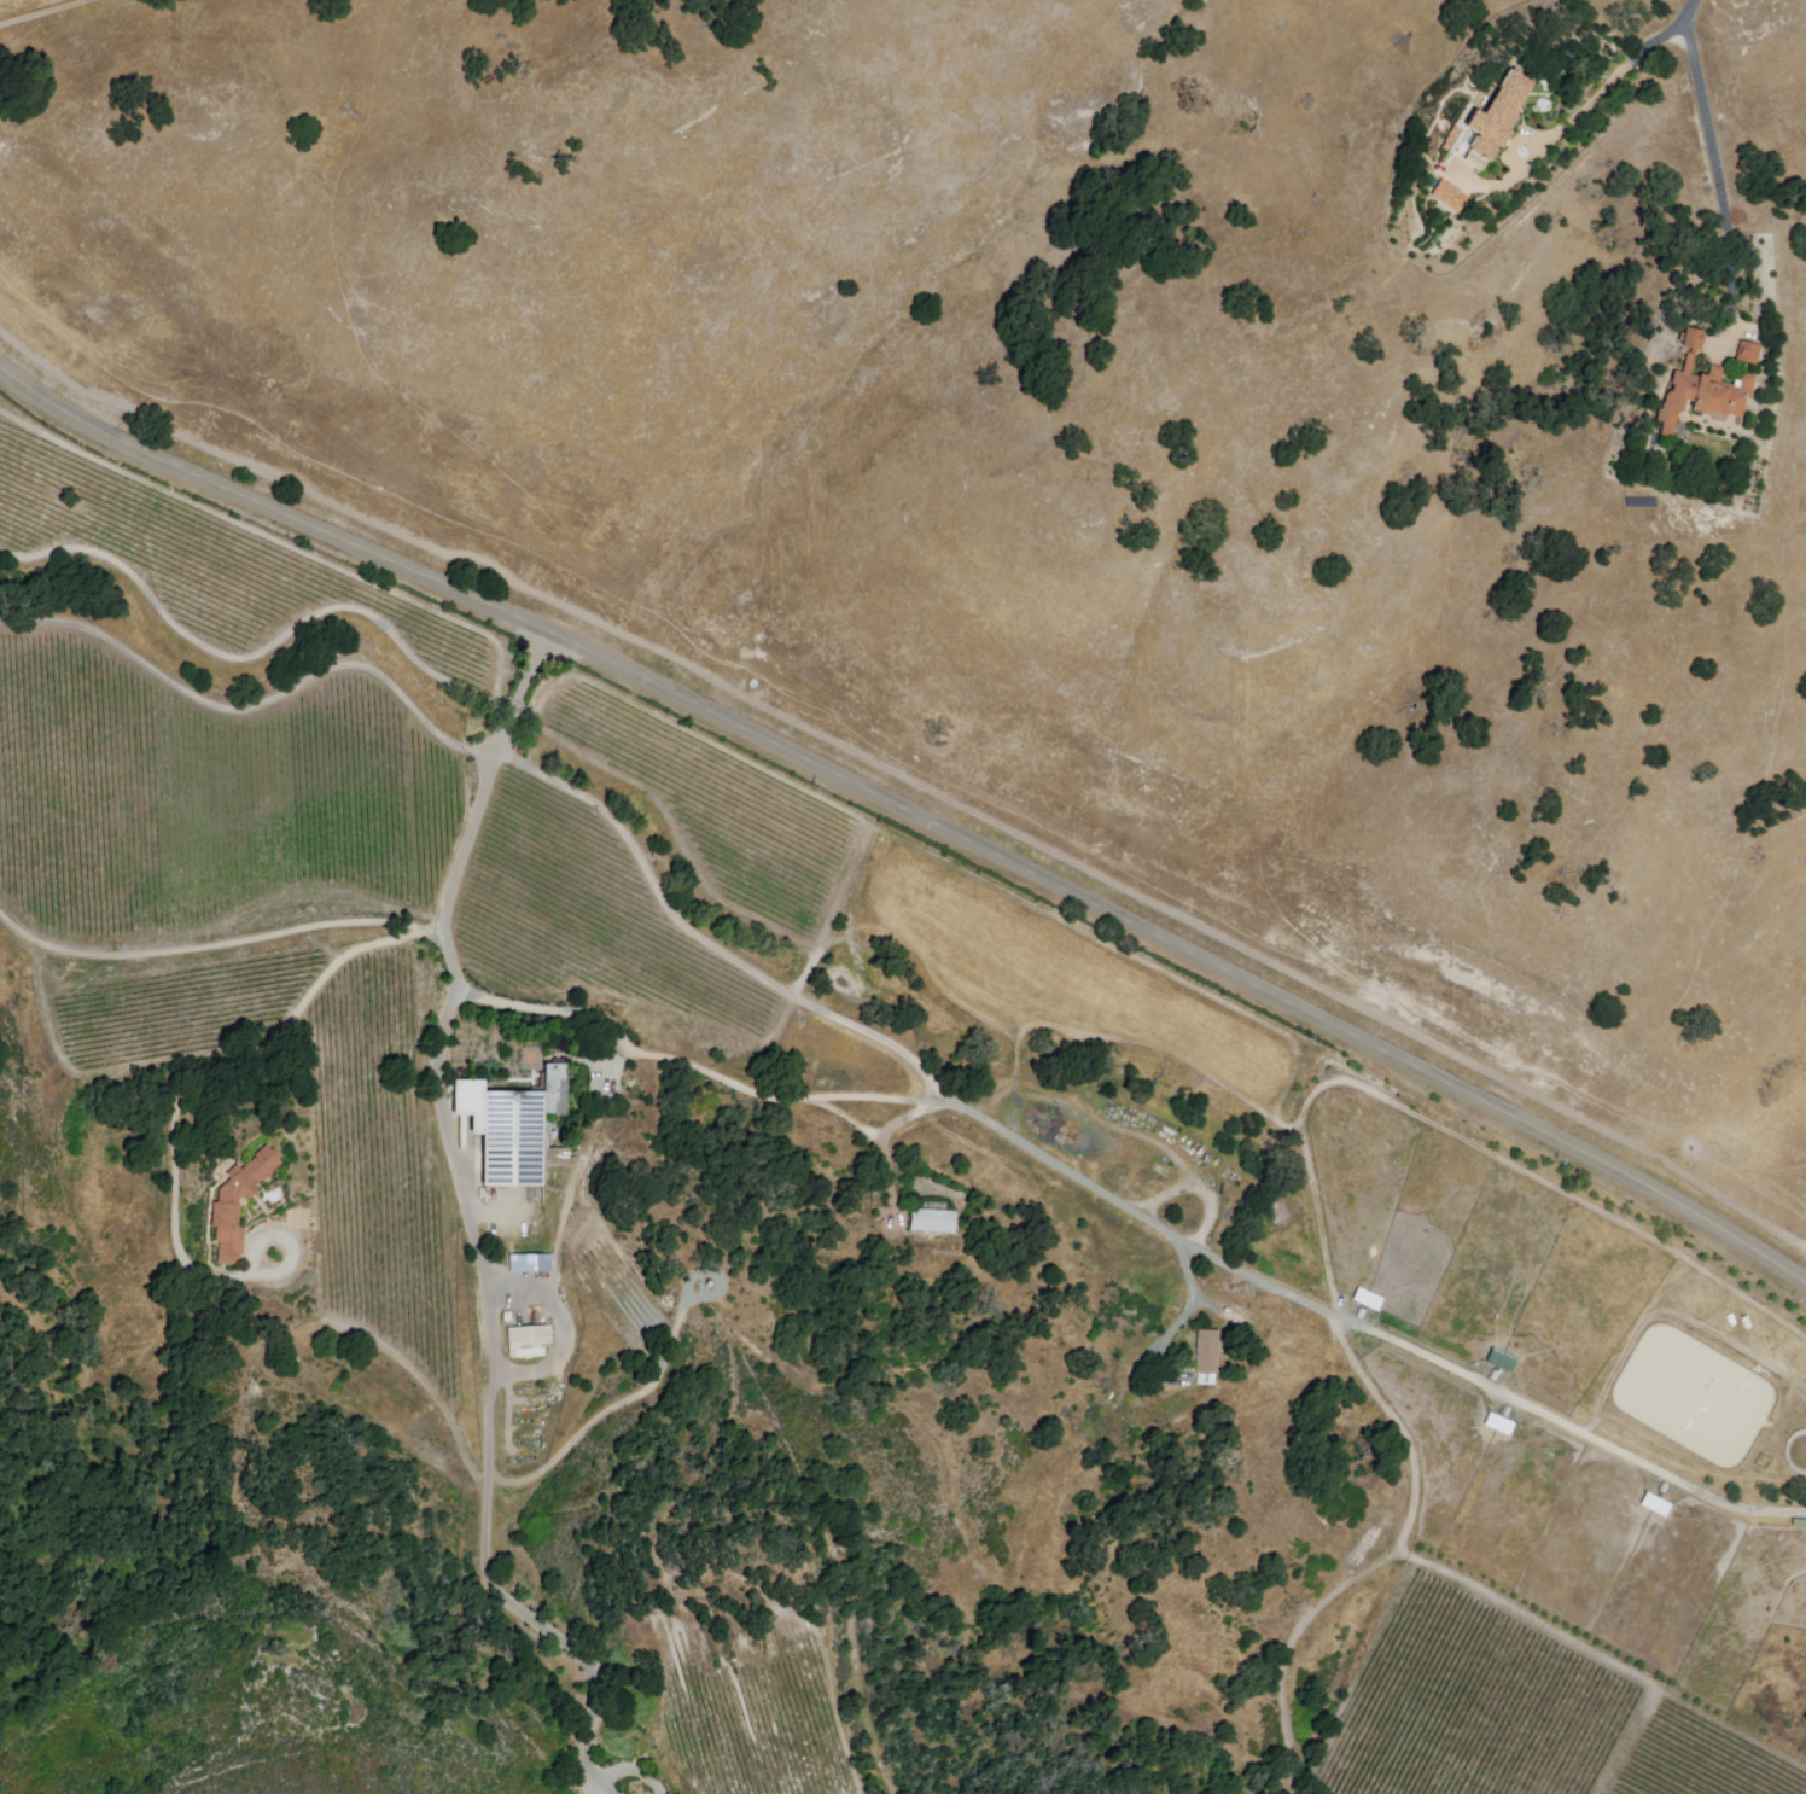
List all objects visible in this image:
road: (1688, 21)
road: (1612, 80)
building: (1501, 117)
building: (1446, 197)
road: (1723, 197)
building: (1749, 354)
building: (1705, 390)
road: (909, 814)
road: (713, 948)
road: (222, 1068)
building: (514, 1125)
building: (237, 1207)
road: (1136, 1215)
building: (932, 1221)
road: (472, 1225)
road: (1177, 1324)
building: (529, 1341)
building: (1210, 1352)
building: (1499, 1362)
building: (1498, 1425)
building: (1654, 1505)
road: (1385, 1565)

